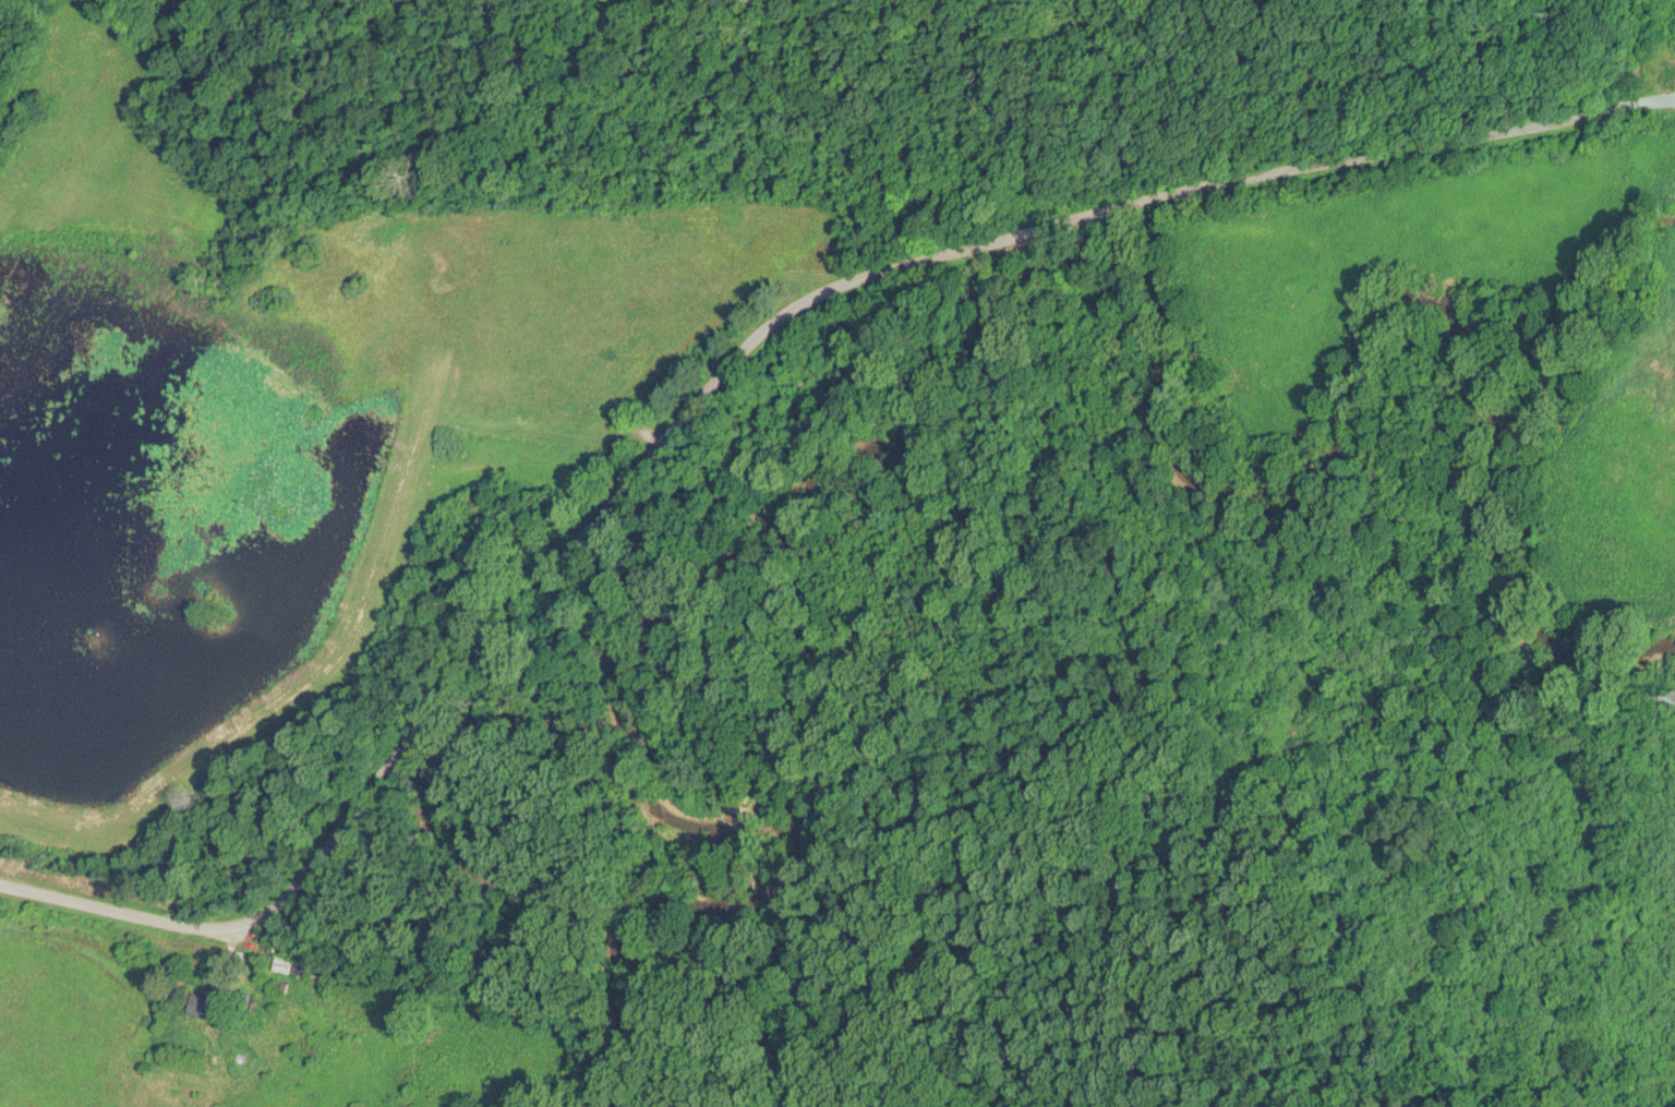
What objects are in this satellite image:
road: (744, 383)
river: (923, 412)
building: (292, 965)
building: (207, 1007)

